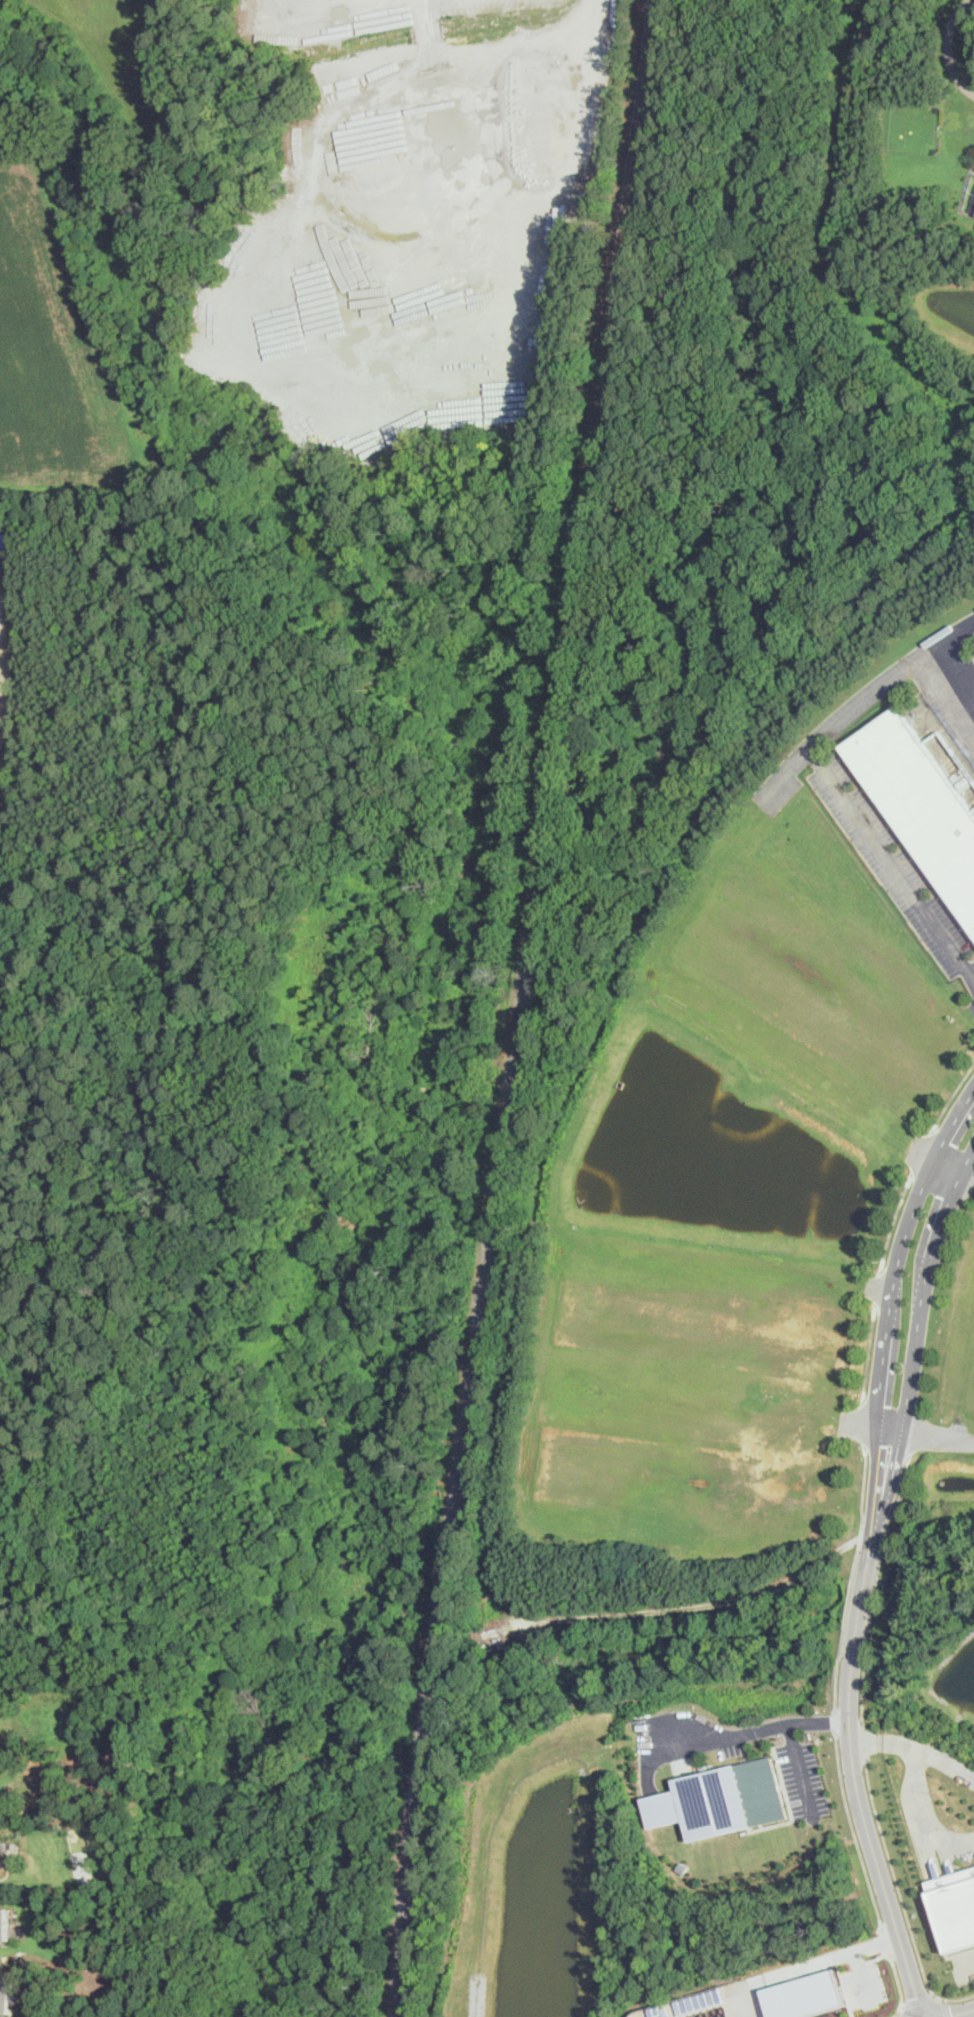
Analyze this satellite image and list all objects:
road: (558, 23)
road: (948, 47)
railway: (587, 502)
crop: (95, 534)
road: (883, 683)
road: (952, 684)
building: (920, 799)
road: (903, 843)
road: (895, 867)
railway: (517, 1031)
road: (950, 1099)
road: (946, 1167)
road: (895, 1219)
road: (898, 1253)
road: (923, 1288)
road: (869, 1353)
road: (863, 1420)
road: (931, 1436)
railway: (446, 1535)
road: (855, 1576)
road: (877, 1585)
road: (837, 1720)
road: (852, 1728)
road: (756, 1730)
road: (865, 1743)
road: (916, 1747)
road: (800, 1770)
building: (722, 1799)
road: (923, 1814)
road: (853, 1830)
building: (2, 1861)
road: (901, 1895)
building: (957, 1914)
building: (4, 1923)
road: (887, 1941)
road: (825, 1959)
road: (965, 1972)
road: (863, 1978)
road: (898, 1980)
building: (6, 1991)
building: (805, 1995)
road: (919, 2001)
road: (944, 2007)
road: (896, 2011)
road: (962, 2013)
road: (897, 2014)

